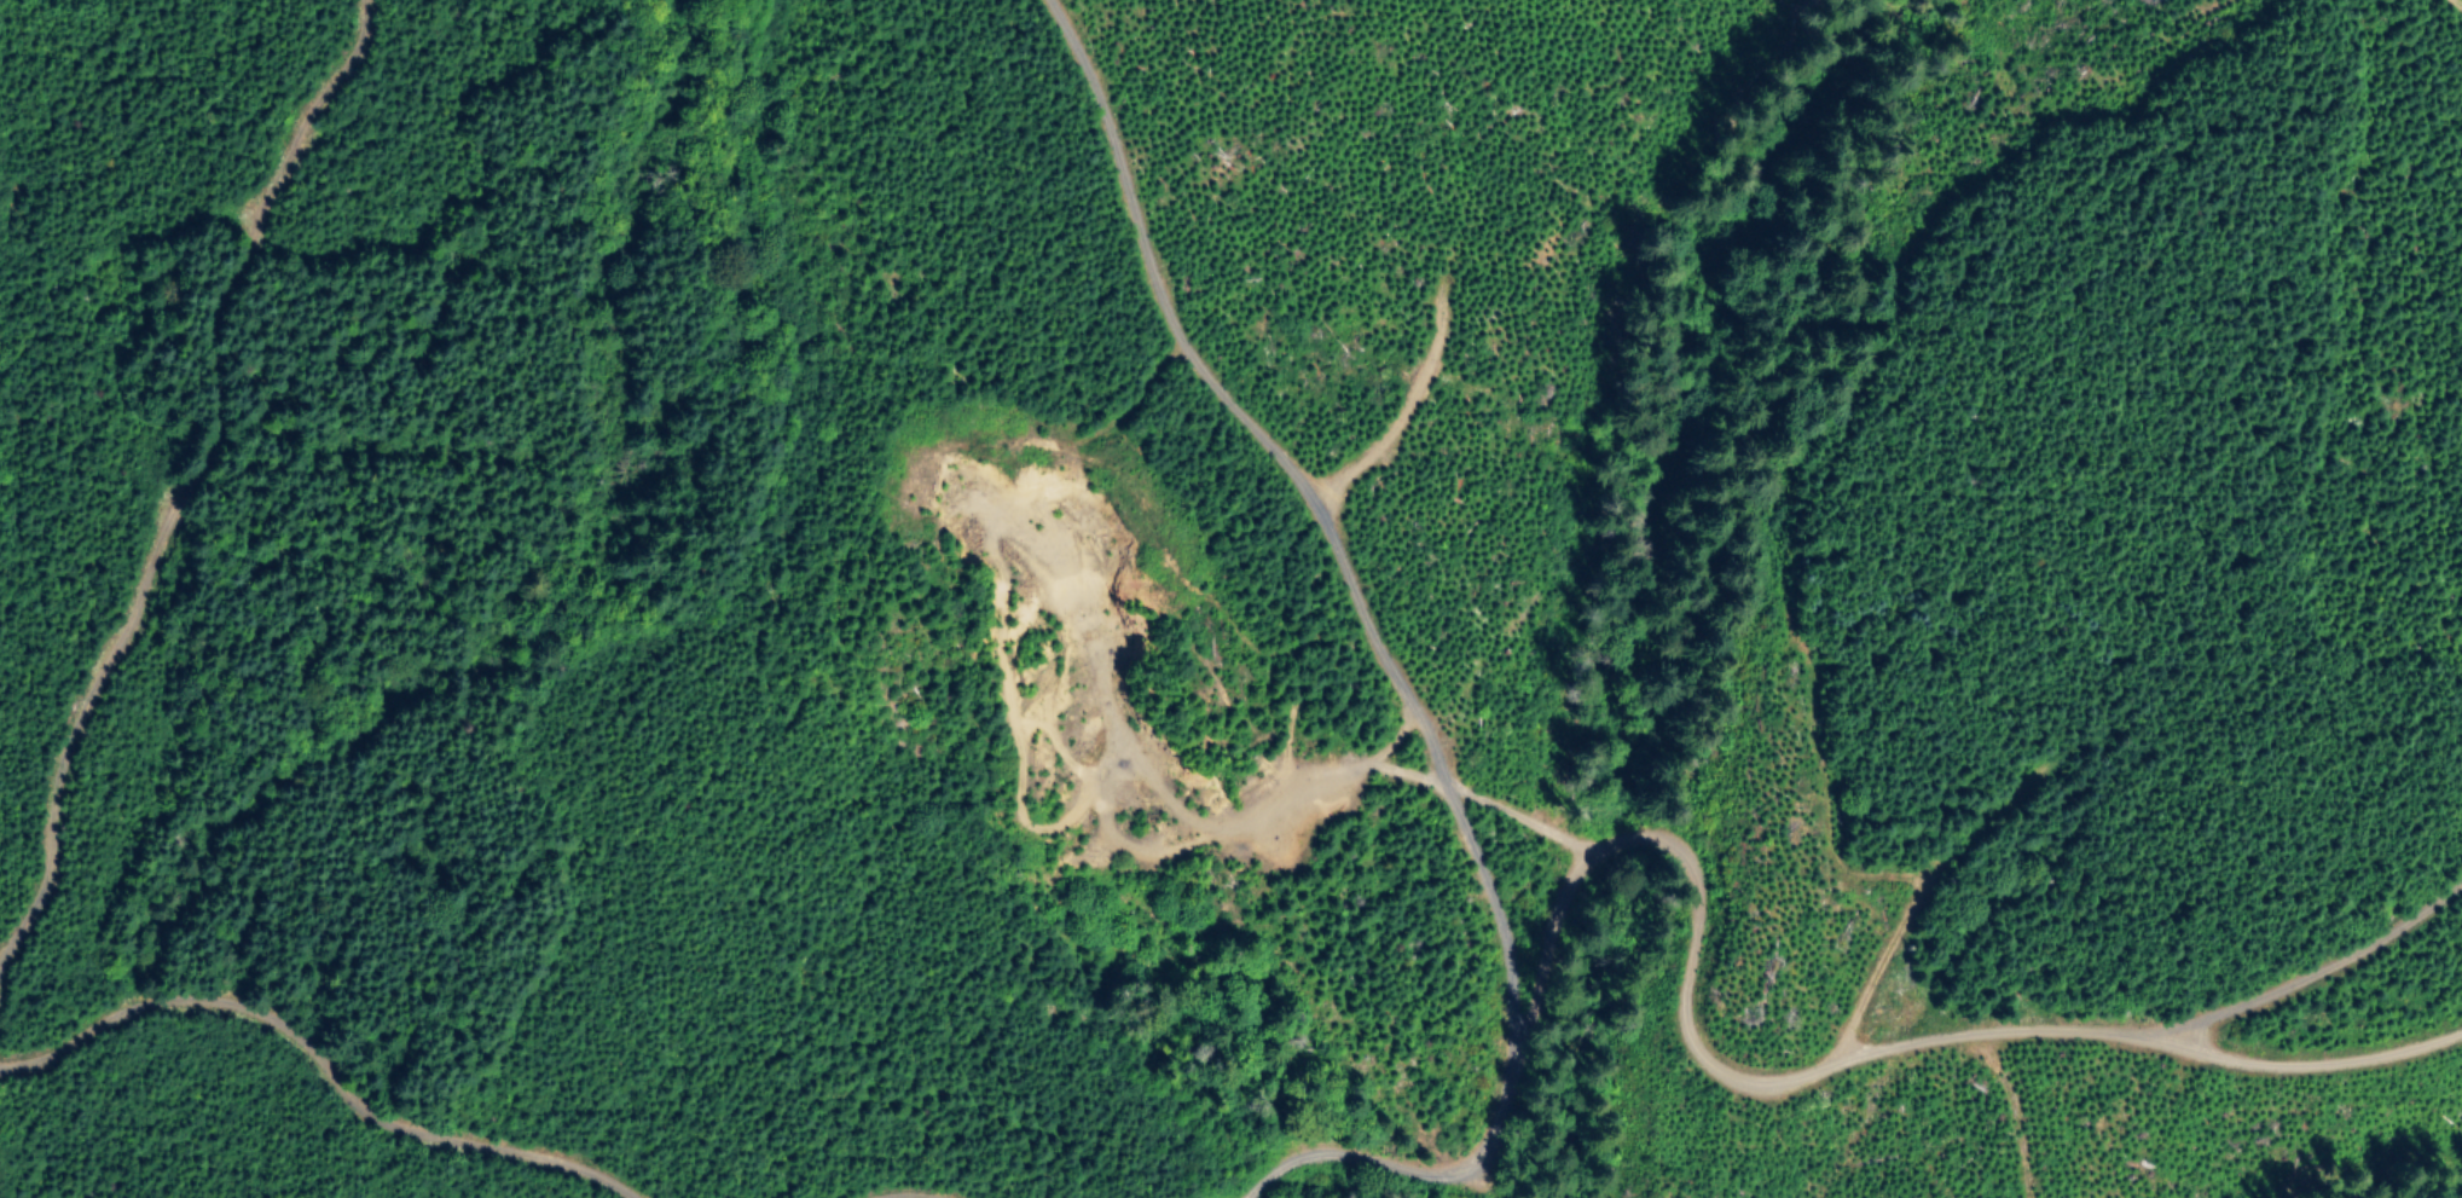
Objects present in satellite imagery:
road: (1432, 631)
road: (1385, 747)
road: (2313, 947)
road: (30, 1007)
road: (1883, 1047)
road: (335, 1098)
road: (902, 1164)

